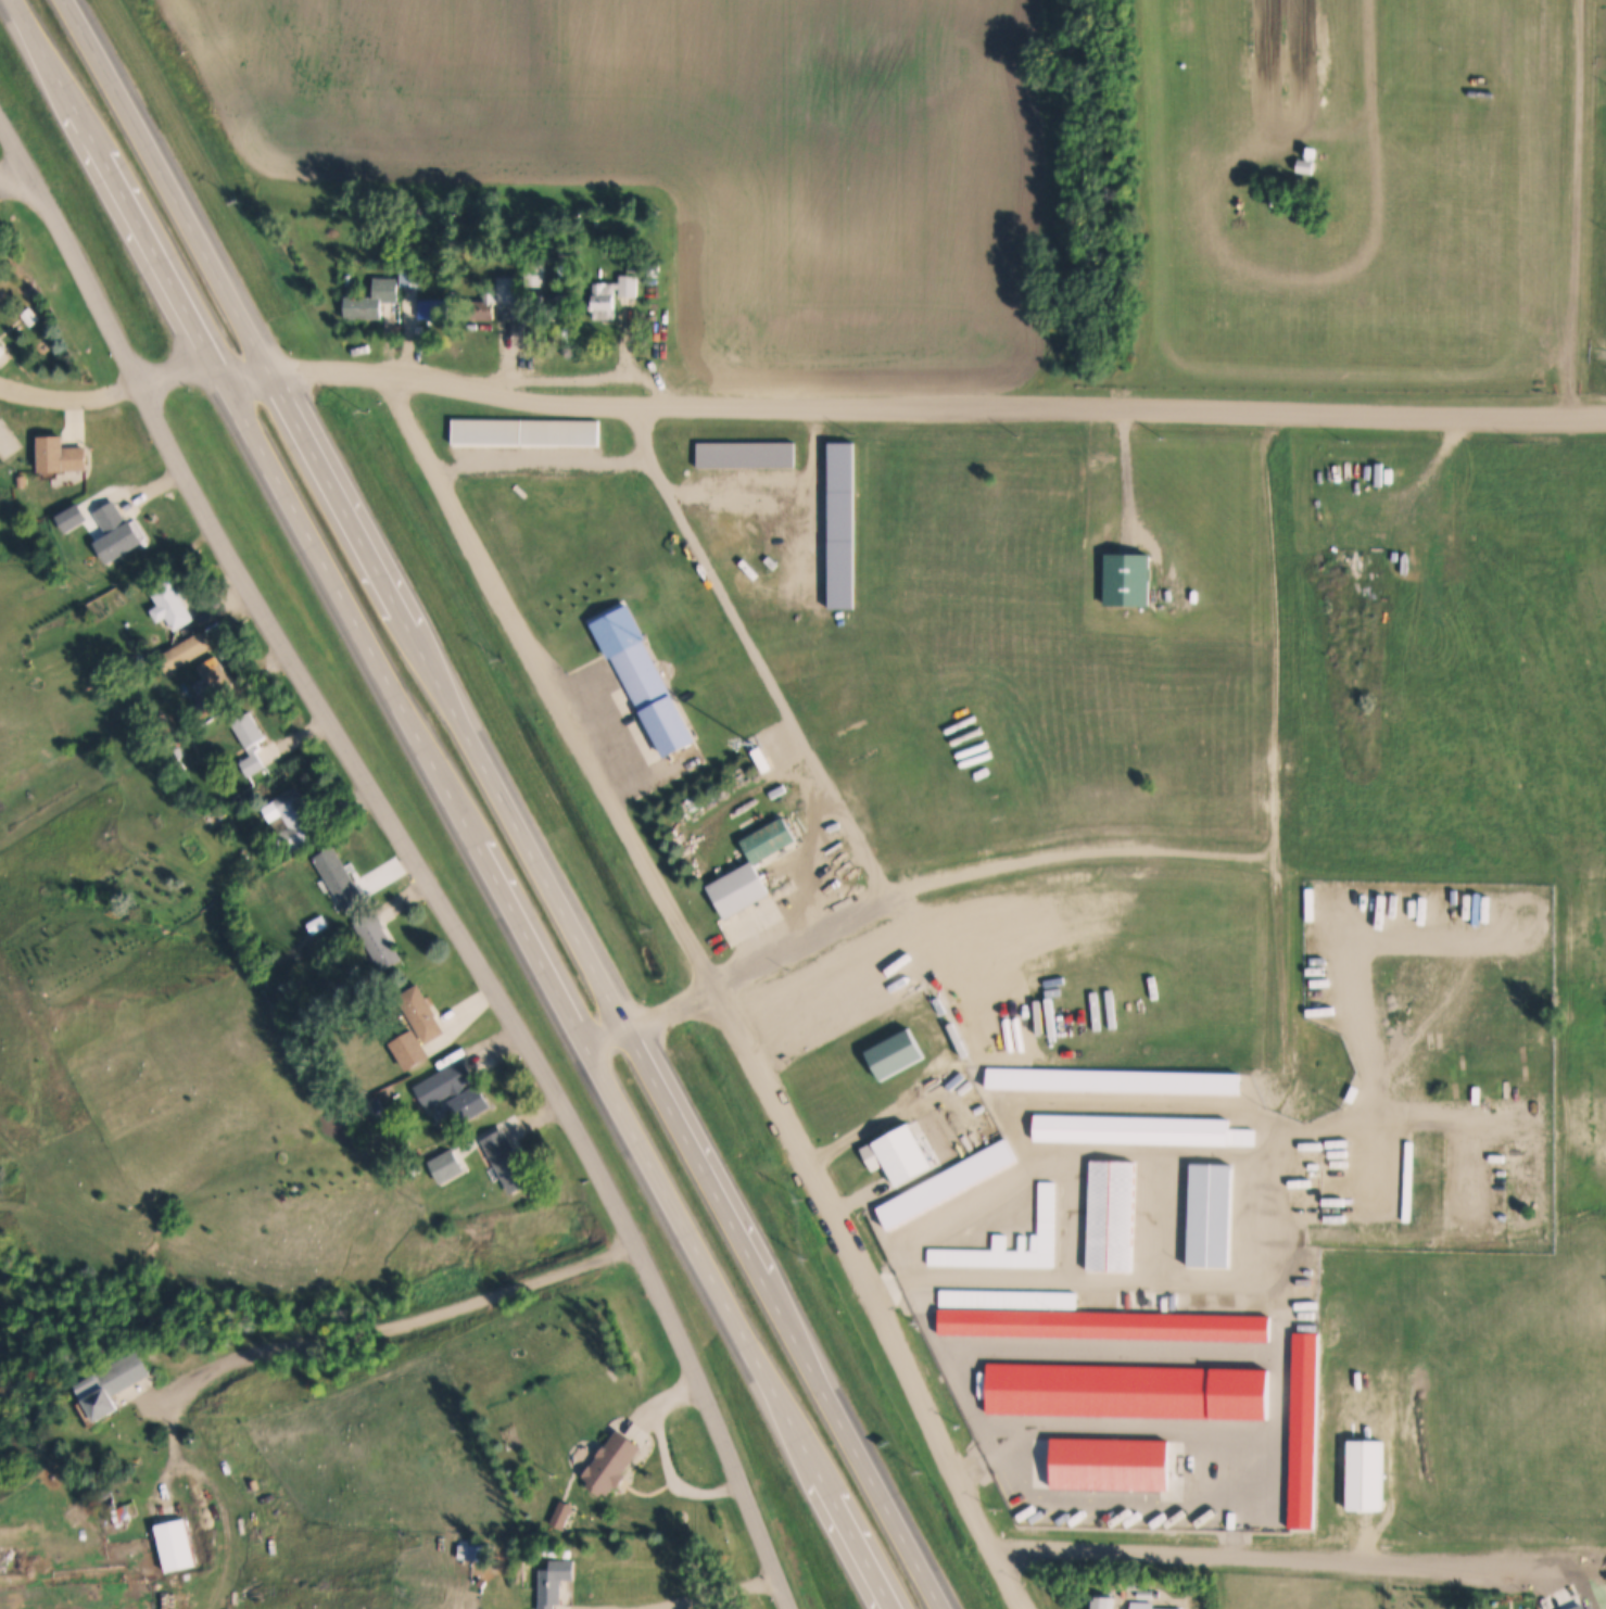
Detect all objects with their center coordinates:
building: (1313, 153)
building: (1304, 166)
road: (15, 174)
road: (1580, 207)
building: (413, 270)
building: (534, 274)
building: (508, 289)
building: (614, 296)
building: (372, 297)
building: (485, 305)
building: (556, 307)
building: (434, 308)
building: (30, 316)
building: (1, 350)
road: (797, 406)
building: (526, 431)
building: (60, 455)
building: (22, 481)
building: (118, 534)
building: (1129, 580)
building: (172, 606)
building: (186, 651)
road: (756, 655)
building: (215, 672)
building: (655, 696)
building: (208, 705)
parking lot: (619, 727)
building: (251, 744)
road: (1276, 781)
road: (505, 802)
road: (457, 803)
building: (294, 824)
road: (412, 854)
building: (339, 879)
road: (914, 888)
building: (738, 890)
building: (319, 924)
building: (379, 942)
road: (712, 983)
building: (421, 1014)
building: (410, 1051)
building: (894, 1053)
building: (455, 1092)
building: (439, 1116)
building: (897, 1155)
building: (507, 1162)
building: (1212, 1215)
building: (1111, 1216)
road: (1122, 1281)
building: (1147, 1300)
road: (399, 1332)
building: (111, 1382)
building: (614, 1462)
building: (1112, 1464)
building: (1368, 1473)
road: (214, 1494)
building: (174, 1546)
building: (473, 1553)
road: (1247, 1557)
building: (556, 1582)
building: (480, 1583)
building: (1134, 1583)
road: (716, 1594)
building: (1145, 1594)
building: (1103, 1601)
building: (1142, 1605)
building: (1568, 1607)

